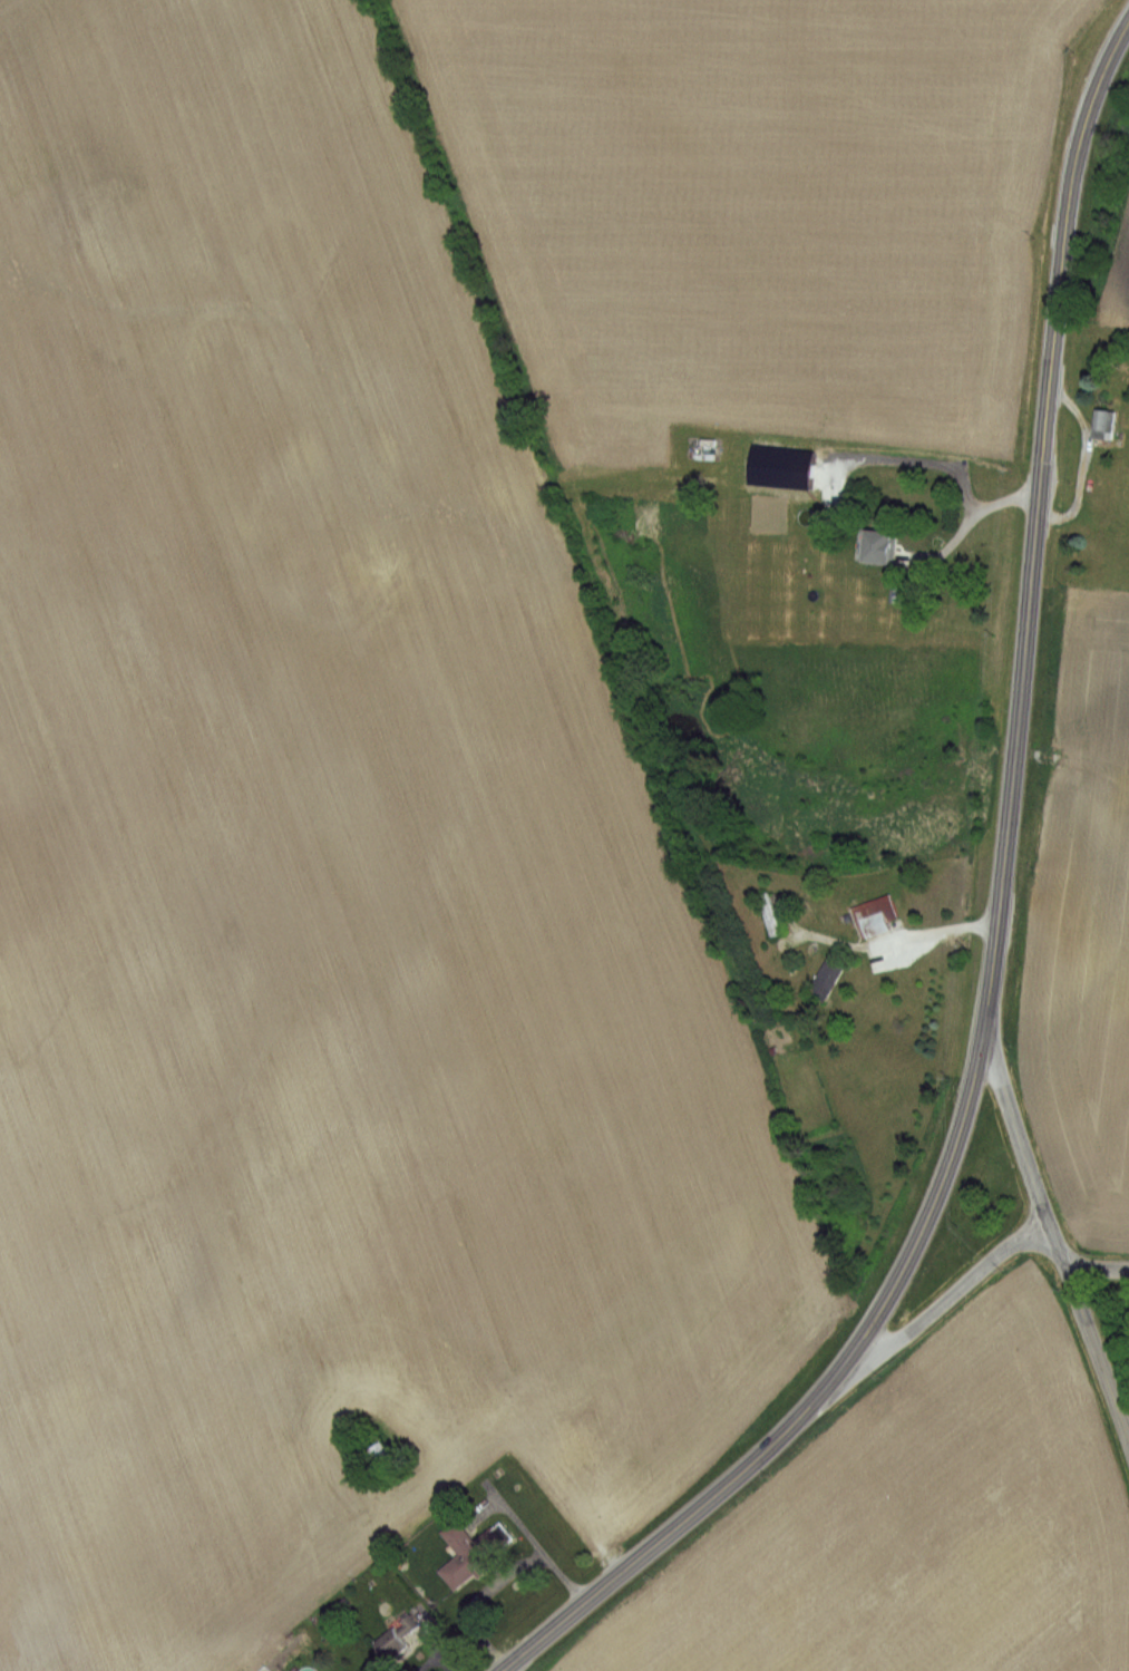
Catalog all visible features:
building: (1099, 425)
road: (974, 515)
building: (975, 560)
building: (766, 913)
building: (872, 916)
road: (995, 926)
road: (896, 943)
building: (820, 978)
road: (1026, 1159)
road: (1098, 1261)
road: (969, 1280)
road: (1098, 1348)
building: (373, 1451)
building: (495, 1537)
building: (460, 1564)
road: (500, 1580)
building: (383, 1644)

